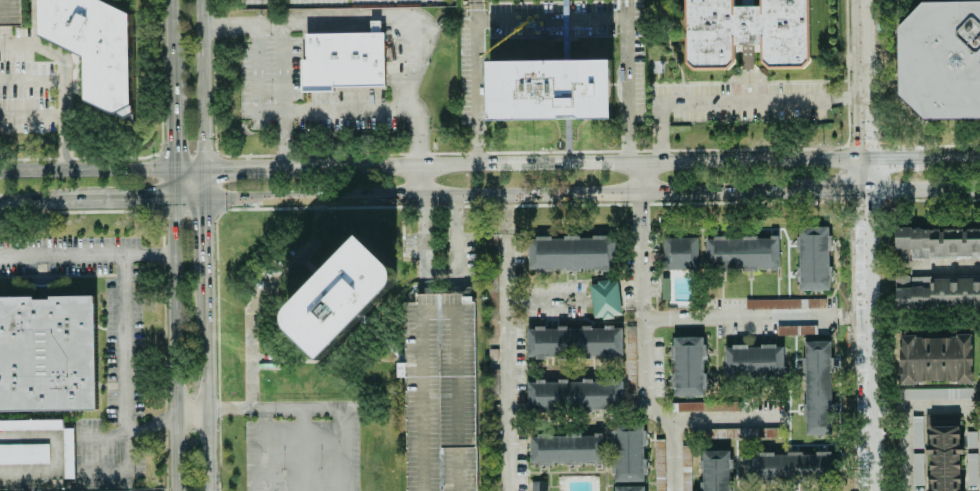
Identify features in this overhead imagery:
building: (9, 11)
parking garage: (9, 11)
road: (548, 21)
road: (371, 22)
road: (227, 26)
building: (745, 33)
building: (98, 46)
road: (169, 48)
building: (342, 60)
building: (941, 60)
road: (255, 69)
road: (65, 79)
flagpole: (686, 79)
flagpole: (693, 79)
road: (861, 79)
road: (473, 81)
road: (624, 83)
road: (201, 84)
building: (77, 88)
building: (549, 89)
flagpole: (747, 89)
road: (279, 96)
road: (730, 100)
parking lot: (743, 102)
road: (33, 109)
road: (330, 111)
road: (415, 136)
traffic signals: (862, 143)
road: (170, 147)
traffic signals: (171, 154)
road: (957, 157)
traffic signals: (892, 158)
road: (898, 158)
road: (565, 162)
road: (219, 168)
traffic signals: (222, 168)
road: (85, 169)
road: (863, 174)
road: (637, 177)
road: (415, 180)
road: (921, 189)
road: (825, 190)
traffic signals: (840, 190)
road: (496, 194)
traffic signals: (157, 199)
road: (139, 200)
road: (37, 204)
traffic signals: (864, 209)
road: (509, 214)
road: (205, 219)
traffic signals: (205, 219)
building: (937, 242)
road: (642, 250)
building: (571, 253)
building: (679, 253)
building: (741, 253)
road: (84, 255)
building: (813, 258)
road: (940, 263)
road: (283, 273)
road: (436, 280)
building: (937, 292)
building: (342, 297)
road: (547, 299)
building: (605, 299)
building: (784, 303)
road: (740, 314)
road: (850, 316)
building: (794, 330)
road: (867, 340)
building: (574, 342)
road: (172, 344)
building: (47, 353)
building: (935, 359)
building: (753, 361)
road: (512, 362)
building: (688, 366)
road: (648, 372)
road: (205, 381)
building: (817, 387)
road: (126, 390)
building: (440, 392)
building: (934, 393)
building: (574, 394)
road: (916, 404)
building: (703, 406)
road: (216, 411)
road: (689, 418)
road: (303, 424)
building: (30, 425)
building: (916, 431)
road: (100, 436)
road: (37, 437)
building: (970, 439)
road: (905, 447)
parking lot: (307, 448)
building: (566, 448)
building: (943, 452)
building: (24, 453)
building: (627, 453)
building: (788, 467)
building: (685, 469)
building: (971, 469)
building: (715, 470)
road: (37, 473)
building: (628, 488)

